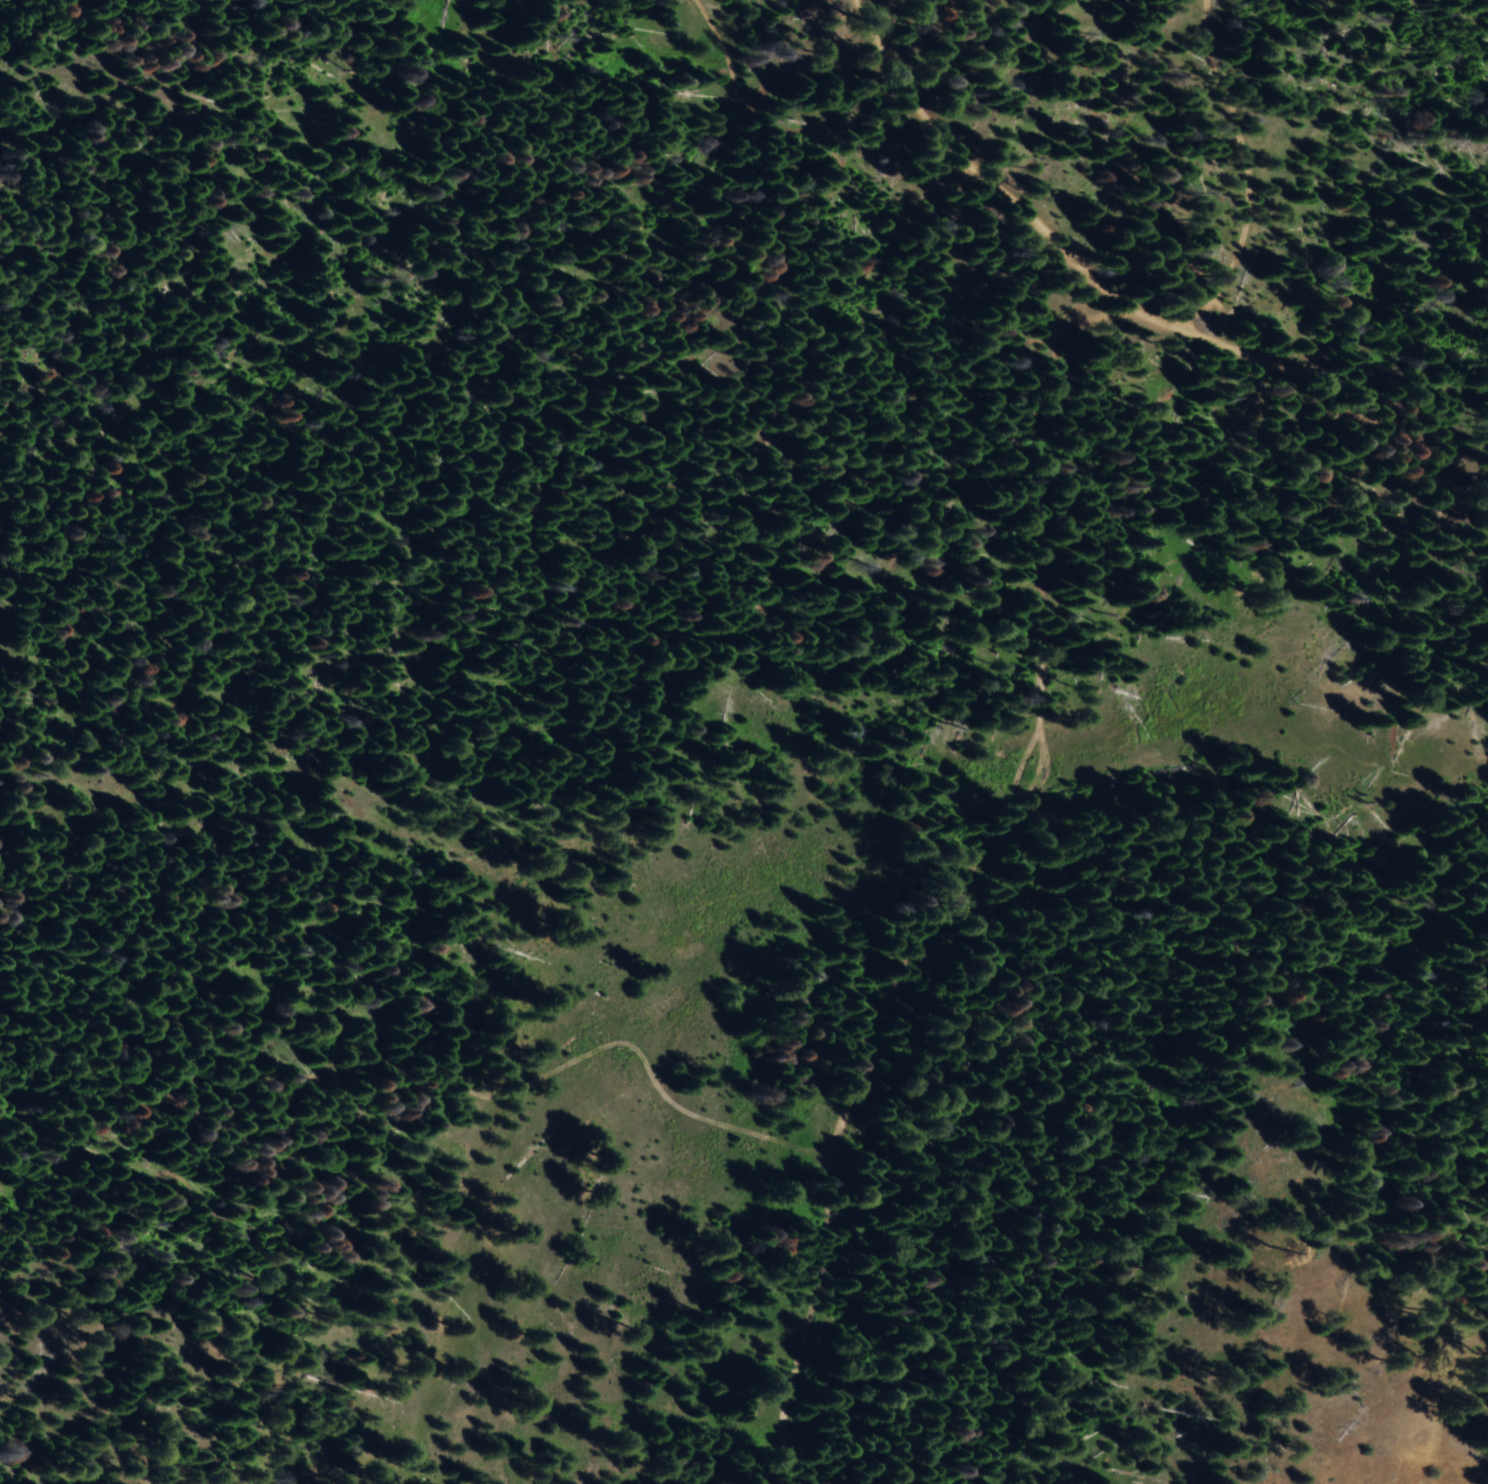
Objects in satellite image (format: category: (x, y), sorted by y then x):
road: (775, 88)
road: (1256, 164)
road: (1155, 281)
road: (977, 865)
road: (13, 1461)

